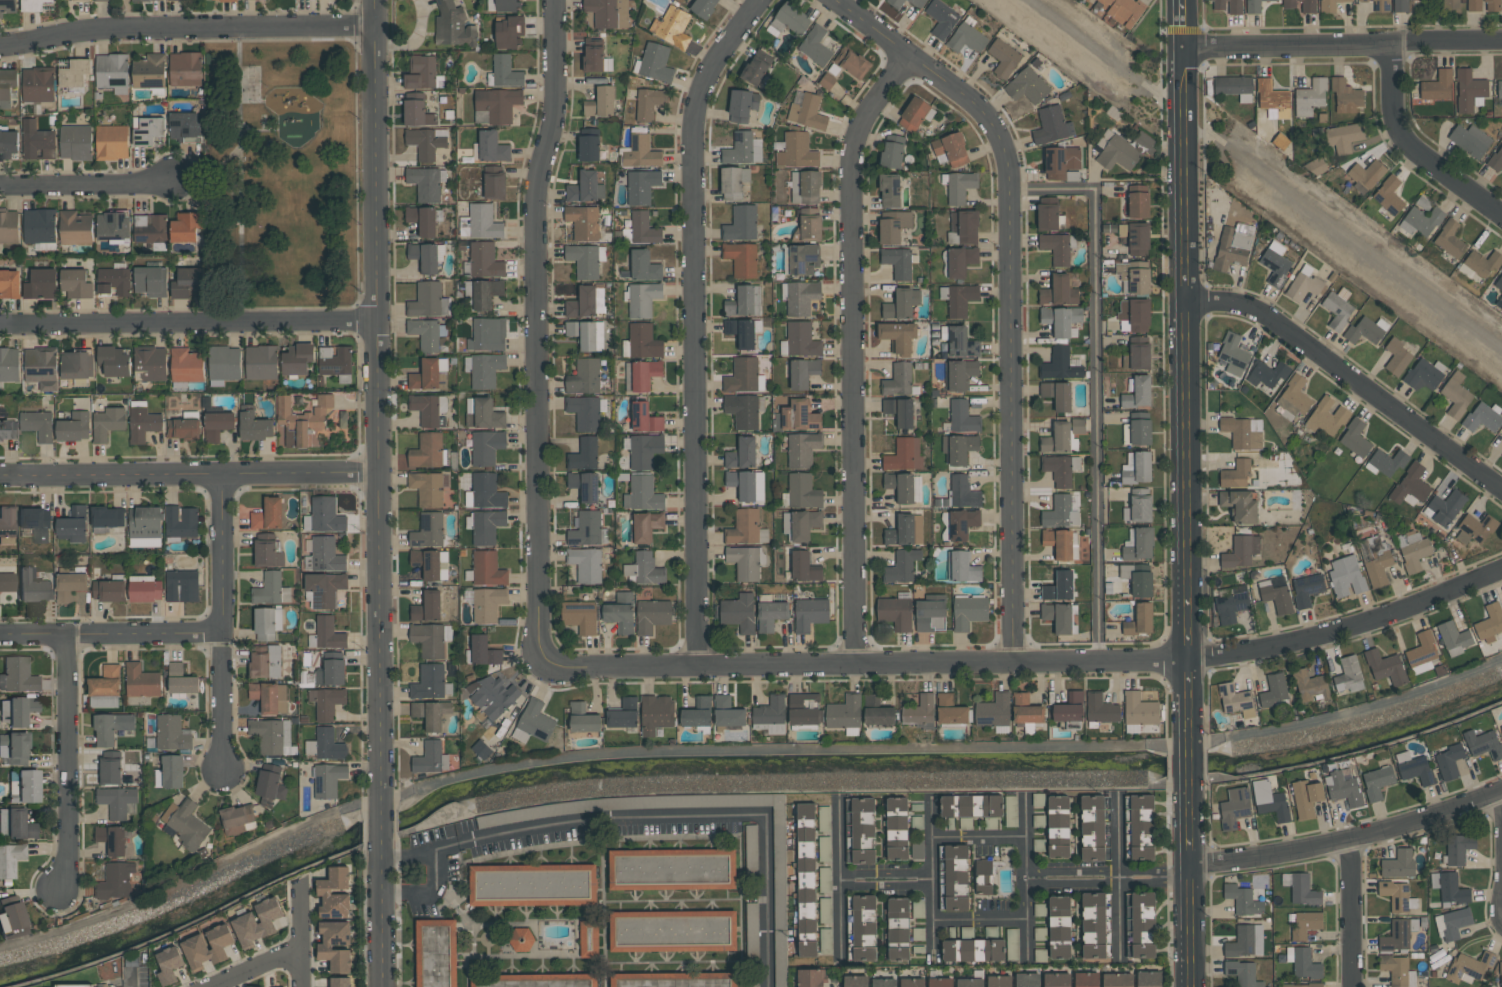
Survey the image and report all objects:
building: (84, 0)
building: (103, 0)
building: (148, 0)
building: (176, 0)
building: (220, 0)
building: (896, 3)
building: (917, 3)
building: (1448, 4)
building: (33, 5)
building: (505, 5)
building: (1300, 5)
building: (1329, 5)
building: (1379, 5)
building: (1400, 5)
building: (1483, 5)
building: (1227, 6)
building: (1254, 6)
building: (7, 7)
building: (703, 7)
building: (1123, 9)
building: (608, 13)
building: (789, 18)
building: (942, 18)
building: (452, 25)
building: (671, 26)
road: (185, 29)
building: (508, 30)
building: (967, 37)
road: (1342, 45)
building: (816, 46)
building: (593, 54)
building: (1004, 58)
building: (656, 62)
building: (852, 63)
building: (185, 68)
building: (755, 69)
building: (112, 71)
building: (505, 71)
building: (73, 72)
building: (150, 72)
building: (421, 72)
building: (7, 82)
building: (38, 84)
building: (1437, 85)
building: (1027, 86)
building: (1235, 86)
building: (1499, 88)
building: (1469, 89)
building: (250, 91)
building: (1346, 95)
building: (1310, 97)
building: (1272, 99)
building: (600, 102)
building: (649, 102)
building: (497, 104)
building: (742, 105)
building: (417, 112)
building: (808, 112)
building: (914, 114)
building: (183, 124)
building: (1051, 125)
building: (147, 129)
building: (1345, 137)
building: (1470, 140)
building: (426, 141)
building: (1280, 141)
building: (75, 142)
building: (112, 142)
building: (38, 144)
building: (8, 145)
building: (492, 147)
building: (589, 147)
building: (743, 149)
building: (951, 149)
building: (1122, 149)
road: (1413, 149)
building: (797, 151)
building: (641, 152)
building: (892, 154)
building: (1496, 159)
building: (1063, 163)
building: (1316, 166)
building: (1366, 175)
park: (281, 178)
building: (733, 181)
building: (495, 182)
building: (425, 183)
road: (84, 184)
building: (642, 186)
building: (805, 186)
building: (960, 186)
building: (586, 187)
building: (890, 191)
building: (1389, 195)
building: (1138, 200)
building: (1048, 213)
building: (1422, 217)
building: (422, 219)
building: (484, 221)
building: (583, 221)
building: (741, 223)
building: (810, 224)
building: (39, 225)
building: (112, 225)
building: (893, 225)
building: (965, 225)
building: (9, 226)
building: (186, 226)
building: (75, 227)
building: (149, 228)
building: (643, 228)
road: (375, 237)
building: (1138, 238)
building: (1450, 239)
building: (1233, 246)
building: (1058, 247)
building: (424, 256)
building: (741, 258)
building: (803, 259)
building: (484, 260)
building: (585, 260)
building: (961, 260)
building: (898, 262)
building: (1482, 262)
building: (644, 266)
building: (1275, 267)
building: (1137, 278)
building: (151, 280)
building: (113, 281)
building: (188, 282)
building: (1499, 282)
building: (10, 283)
building: (41, 283)
building: (76, 283)
building: (1303, 286)
road: (1009, 290)
building: (1058, 291)
building: (486, 293)
building: (599, 295)
building: (801, 297)
building: (643, 298)
building: (959, 298)
building: (428, 300)
building: (744, 301)
building: (582, 302)
building: (902, 303)
building: (1499, 303)
building: (1337, 311)
building: (1136, 314)
building: (1061, 320)
road: (694, 324)
road: (188, 327)
road: (535, 330)
building: (742, 331)
building: (1364, 331)
building: (426, 333)
building: (487, 334)
building: (587, 334)
building: (898, 335)
building: (800, 340)
building: (642, 342)
building: (961, 342)
road: (852, 350)
building: (1140, 352)
building: (1233, 354)
building: (1398, 355)
building: (297, 359)
building: (114, 360)
building: (335, 360)
building: (261, 362)
building: (150, 363)
building: (224, 363)
building: (1061, 364)
building: (9, 365)
building: (186, 365)
building: (41, 367)
building: (484, 369)
building: (803, 372)
building: (959, 373)
building: (429, 374)
building: (645, 374)
building: (1267, 374)
building: (1424, 374)
building: (744, 376)
building: (584, 377)
road: (1351, 378)
building: (898, 379)
road: (1095, 383)
building: (1138, 392)
building: (1057, 394)
building: (1456, 395)
building: (1293, 398)
building: (429, 409)
building: (743, 411)
building: (900, 411)
building: (584, 412)
building: (483, 413)
building: (797, 416)
building: (302, 417)
building: (962, 417)
building: (1326, 417)
building: (1483, 417)
building: (645, 418)
building: (342, 419)
building: (108, 423)
building: (37, 424)
building: (143, 424)
building: (218, 425)
building: (74, 426)
building: (254, 426)
building: (1079, 426)
building: (183, 428)
building: (1140, 428)
building: (7, 430)
road: (1186, 432)
building: (1243, 432)
building: (1355, 438)
building: (487, 447)
building: (959, 448)
building: (802, 449)
building: (428, 451)
building: (645, 451)
building: (742, 453)
building: (584, 454)
building: (1501, 454)
building: (904, 455)
building: (1388, 461)
building: (1137, 468)
building: (1060, 469)
building: (1236, 473)
road: (189, 477)
building: (746, 484)
building: (1411, 484)
building: (584, 485)
building: (901, 486)
building: (427, 488)
building: (487, 491)
building: (802, 492)
building: (963, 492)
building: (642, 494)
building: (1141, 504)
building: (1240, 506)
building: (1444, 508)
building: (1060, 512)
building: (326, 514)
building: (267, 515)
building: (105, 518)
building: (181, 521)
building: (7, 522)
building: (36, 522)
building: (962, 523)
building: (73, 524)
building: (804, 524)
building: (487, 526)
building: (646, 526)
building: (145, 527)
building: (586, 528)
building: (746, 528)
building: (1475, 529)
building: (428, 530)
building: (905, 530)
building: (1059, 543)
building: (1138, 544)
building: (1413, 550)
building: (267, 551)
building: (1241, 551)
building: (326, 555)
building: (744, 562)
building: (431, 564)
building: (586, 564)
building: (1378, 564)
building: (902, 566)
building: (803, 567)
building: (962, 567)
building: (488, 569)
building: (644, 569)
building: (1346, 576)
building: (7, 582)
building: (1142, 584)
building: (70, 586)
building: (182, 586)
building: (33, 587)
building: (1059, 587)
building: (325, 588)
building: (145, 589)
building: (271, 589)
building: (1307, 589)
building: (109, 590)
building: (1276, 596)
building: (1231, 603)
building: (487, 604)
building: (428, 607)
building: (969, 611)
building: (620, 612)
building: (738, 612)
building: (810, 613)
building: (895, 613)
building: (931, 613)
building: (652, 615)
building: (771, 615)
building: (1058, 617)
building: (581, 618)
building: (1140, 620)
building: (267, 622)
building: (1490, 623)
road: (223, 625)
building: (326, 634)
road: (112, 635)
building: (1453, 637)
building: (431, 639)
building: (484, 651)
building: (1422, 653)
road: (1030, 661)
building: (266, 662)
building: (1384, 666)
building: (331, 673)
building: (1349, 675)
building: (17, 676)
building: (181, 679)
building: (141, 681)
building: (430, 682)
building: (1311, 686)
building: (105, 688)
building: (1274, 691)
building: (493, 695)
building: (270, 697)
building: (1236, 700)
building: (326, 702)
building: (1070, 708)
building: (804, 709)
building: (1026, 709)
building: (1102, 709)
building: (920, 710)
building: (951, 710)
building: (1140, 710)
building: (16, 711)
building: (877, 711)
building: (993, 711)
building: (698, 712)
building: (728, 712)
building: (656, 713)
building: (844, 713)
building: (431, 714)
building: (624, 714)
building: (770, 716)
building: (583, 718)
building: (536, 721)
building: (110, 728)
road: (379, 730)
building: (172, 733)
building: (271, 735)
building: (328, 744)
building: (1483, 744)
building: (14, 748)
building: (482, 749)
road: (738, 750)
building: (431, 758)
building: (1449, 761)
road: (66, 762)
building: (111, 767)
building: (1414, 767)
building: (170, 772)
building: (328, 780)
building: (1377, 782)
building: (270, 785)
building: (25, 787)
building: (1343, 787)
building: (1306, 798)
building: (1270, 801)
building: (119, 802)
building: (1234, 807)
building: (971, 808)
building: (525, 814)
road: (681, 817)
building: (825, 818)
building: (238, 820)
building: (186, 824)
building: (15, 825)
building: (1059, 826)
building: (1142, 827)
building: (897, 828)
building: (1094, 829)
building: (863, 830)
road: (979, 836)
building: (112, 839)
road: (1348, 842)
building: (1458, 848)
building: (751, 850)
road: (407, 856)
building: (778, 857)
building: (10, 860)
building: (1399, 864)
building: (668, 868)
building: (806, 871)
road: (931, 874)
building: (956, 876)
building: (983, 877)
road: (1027, 877)
road: (840, 878)
road: (1120, 878)
road: (885, 879)
building: (116, 880)
building: (825, 880)
road: (1107, 880)
building: (532, 884)
building: (1449, 888)
building: (1301, 889)
road: (426, 890)
building: (324, 891)
building: (1397, 896)
building: (1243, 900)
building: (920, 908)
building: (1039, 909)
building: (826, 910)
road: (1350, 914)
building: (10, 915)
road: (979, 919)
building: (258, 921)
building: (1452, 923)
building: (1305, 924)
building: (1094, 925)
building: (1143, 925)
building: (863, 926)
road: (1189, 926)
building: (1060, 927)
building: (898, 929)
building: (672, 930)
building: (751, 930)
building: (967, 933)
building: (991, 933)
building: (1398, 934)
building: (918, 935)
road: (301, 938)
building: (588, 938)
building: (521, 939)
building: (826, 939)
building: (1246, 941)
building: (1012, 944)
building: (207, 946)
building: (324, 946)
building: (807, 949)
building: (973, 950)
building: (781, 952)
building: (435, 953)
building: (1303, 963)
building: (168, 964)
building: (1470, 968)
road: (261, 970)
building: (1398, 971)
building: (1243, 973)
building: (1501, 974)
building: (810, 978)
road: (131, 979)
building: (673, 979)
building: (1028, 979)
building: (1086, 979)
building: (1149, 979)
building: (539, 980)
building: (1057, 980)
building: (1117, 980)
building: (855, 981)
building: (999, 981)
building: (340, 982)
building: (884, 982)
building: (912, 982)
building: (940, 982)
building: (970, 982)
building: (752, 984)
building: (73, 985)
building: (1303, 985)
building: (257, 986)

